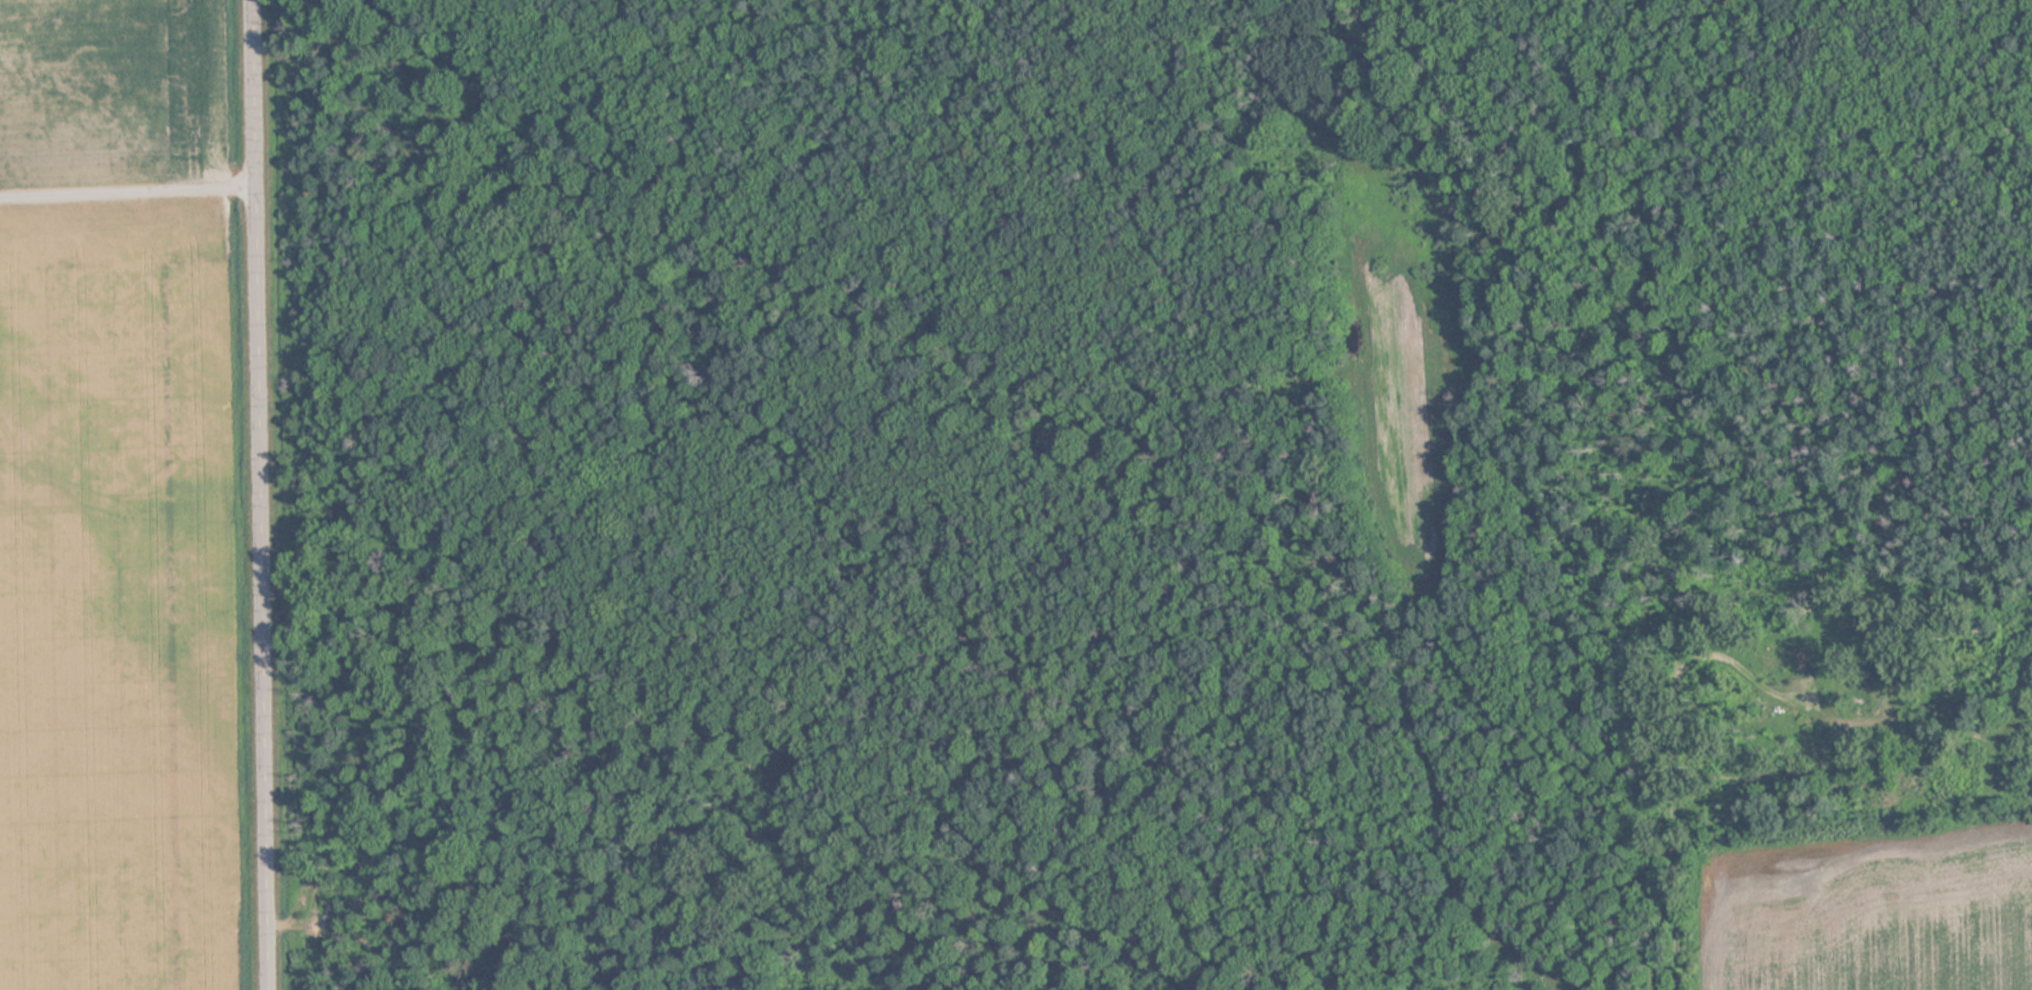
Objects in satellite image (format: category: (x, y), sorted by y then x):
road: (131, 188)
road: (266, 495)

